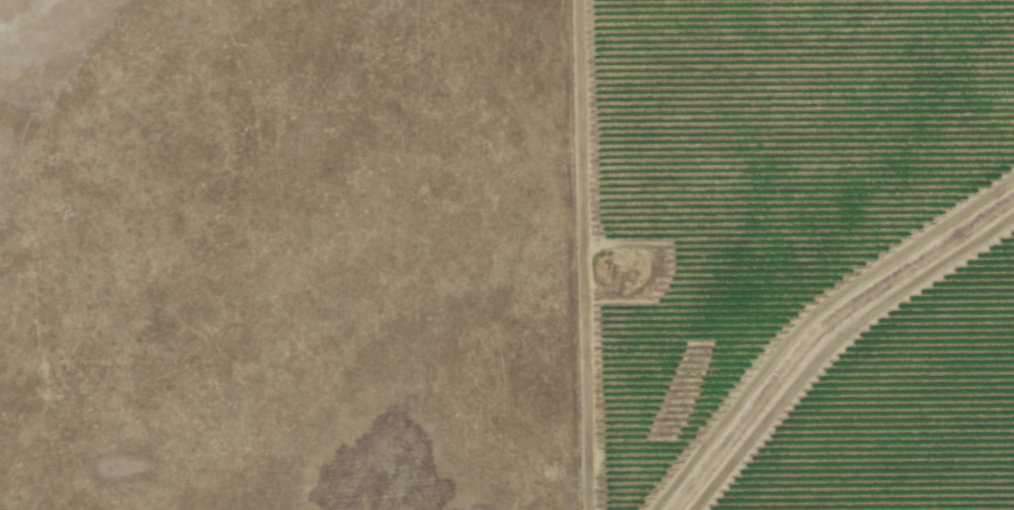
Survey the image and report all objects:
crop: (889, 399)

